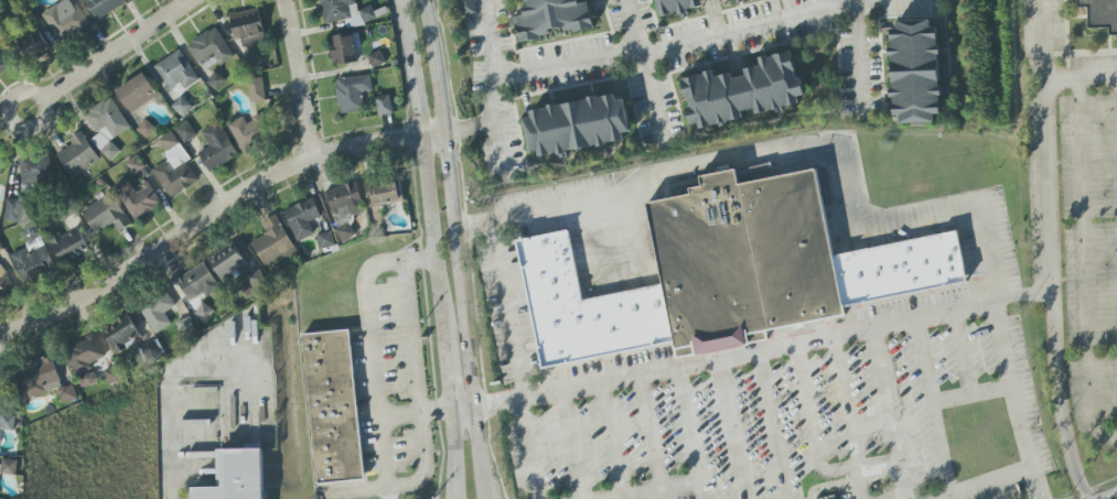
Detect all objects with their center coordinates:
building: (721, 0)
building: (737, 0)
building: (675, 3)
building: (103, 7)
building: (466, 7)
building: (343, 11)
building: (552, 15)
building: (1102, 15)
building: (63, 19)
building: (247, 28)
road: (491, 39)
road: (678, 42)
building: (31, 45)
road: (119, 48)
building: (210, 48)
building: (343, 50)
building: (376, 58)
road: (859, 59)
building: (3, 62)
building: (915, 64)
building: (176, 70)
road: (645, 72)
road: (297, 78)
road: (1080, 79)
building: (743, 84)
building: (256, 90)
road: (33, 91)
building: (137, 93)
building: (352, 93)
building: (383, 105)
building: (181, 107)
building: (577, 119)
road: (470, 126)
building: (106, 127)
building: (146, 129)
road: (496, 130)
building: (249, 131)
building: (184, 132)
building: (216, 148)
building: (77, 155)
building: (2, 162)
building: (173, 167)
road: (429, 169)
building: (35, 170)
building: (384, 189)
road: (847, 197)
building: (137, 198)
building: (344, 198)
road: (452, 202)
building: (12, 210)
road: (216, 214)
building: (105, 215)
road: (1082, 216)
building: (302, 218)
building: (344, 232)
building: (326, 240)
building: (276, 242)
building: (69, 246)
building: (1, 248)
road: (1053, 251)
parking lot: (1093, 253)
building: (32, 257)
building: (744, 258)
building: (235, 260)
building: (900, 269)
building: (200, 275)
building: (261, 278)
building: (4, 281)
road: (624, 281)
building: (163, 304)
building: (584, 307)
road: (506, 308)
building: (125, 330)
road: (762, 345)
road: (375, 350)
road: (962, 350)
building: (88, 357)
building: (3, 369)
building: (117, 372)
road: (449, 373)
building: (46, 375)
road: (417, 386)
building: (2, 390)
building: (72, 390)
road: (971, 393)
road: (845, 400)
road: (1092, 402)
road: (932, 405)
road: (462, 406)
building: (336, 409)
road: (892, 410)
road: (417, 412)
road: (729, 415)
building: (10, 419)
road: (688, 422)
road: (772, 422)
parking lot: (806, 424)
road: (651, 430)
road: (612, 437)
road: (571, 443)
road: (815, 445)
road: (172, 447)
road: (527, 447)
building: (1, 451)
road: (477, 452)
road: (453, 453)
building: (13, 465)
building: (235, 476)
road: (856, 484)
road: (991, 484)
road: (829, 485)
building: (0, 486)
road: (742, 488)
road: (656, 490)
road: (701, 490)
building: (829, 497)

